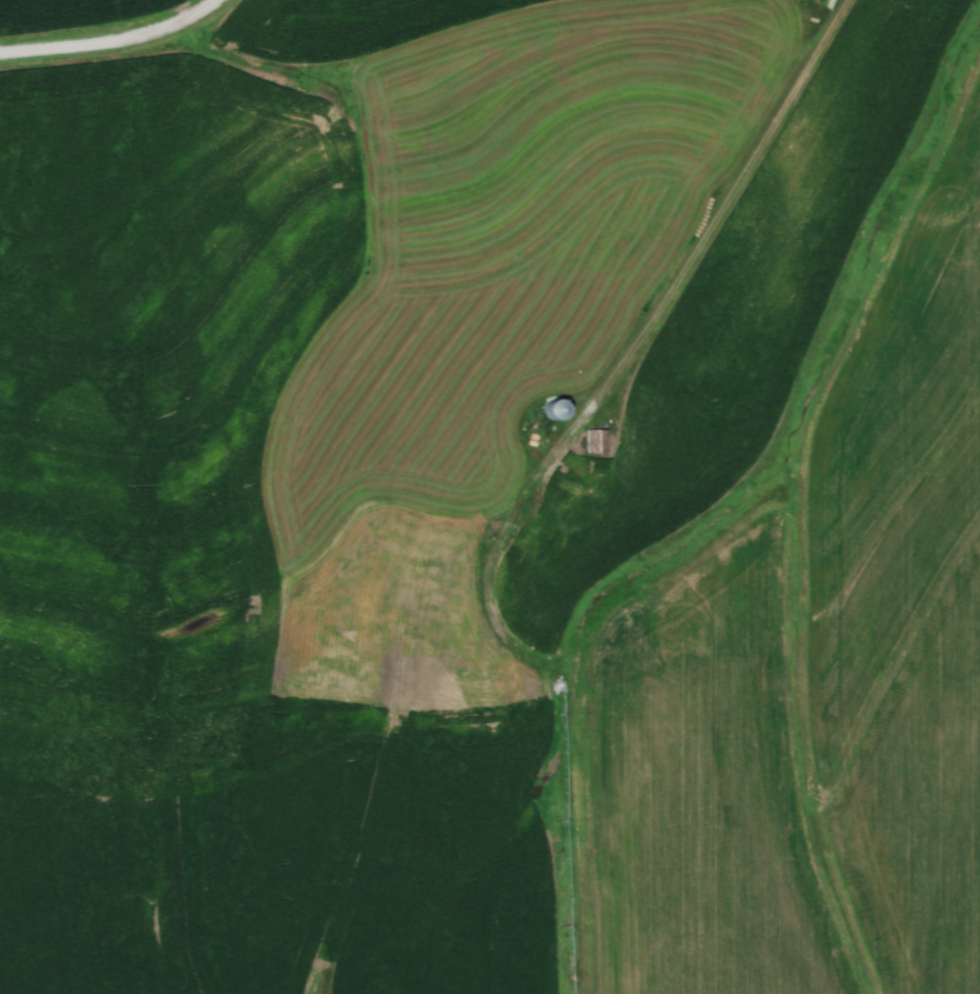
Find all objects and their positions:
road: (117, 41)
road: (685, 275)
building: (549, 408)
building: (594, 440)
building: (422, 599)
building: (406, 682)

